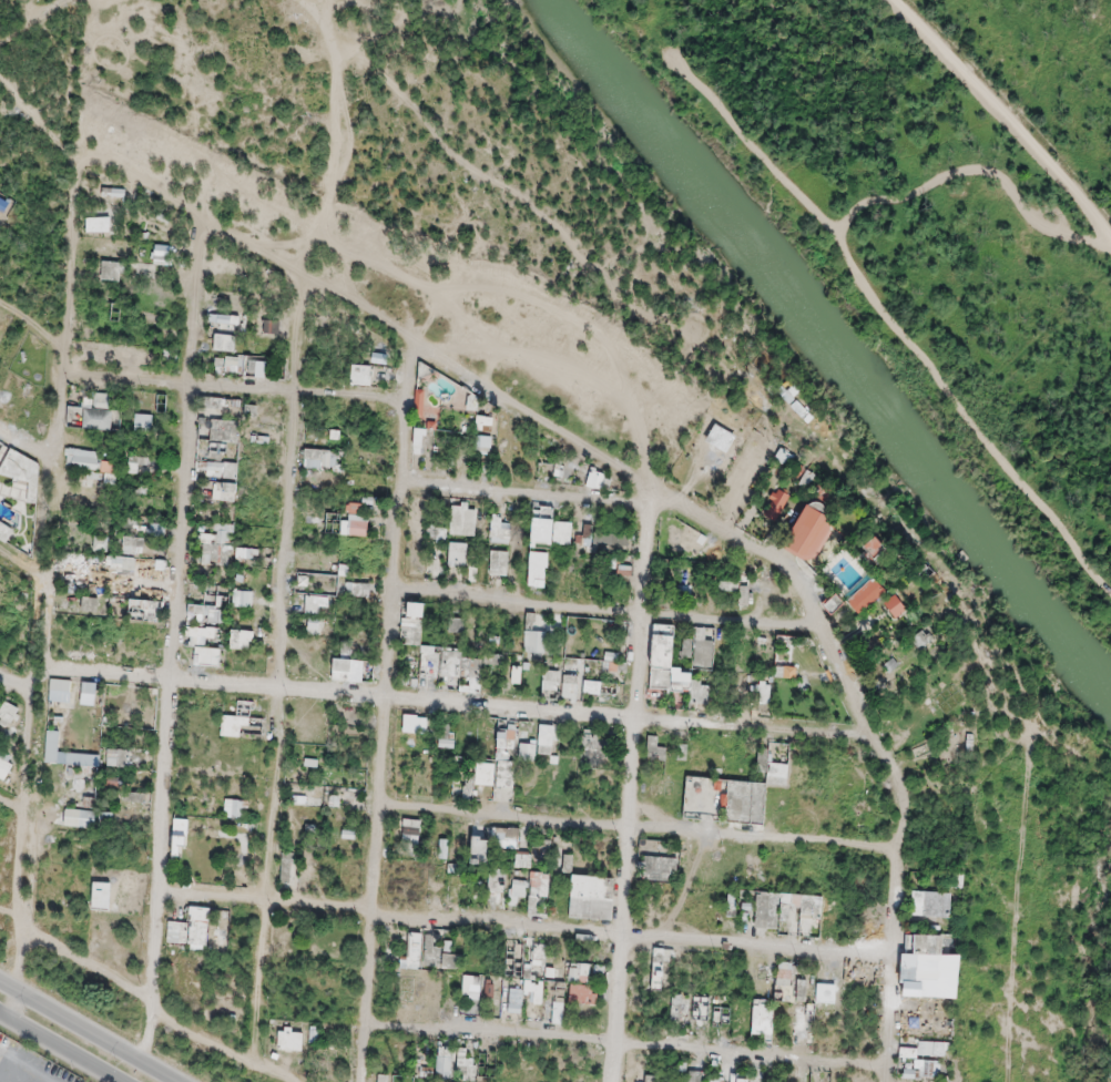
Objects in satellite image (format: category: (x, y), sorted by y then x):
road: (34, 12)
road: (32, 106)
river: (640, 118)
road: (1003, 119)
road: (334, 131)
road: (760, 152)
road: (32, 154)
road: (876, 297)
road: (34, 326)
road: (471, 333)
road: (452, 347)
road: (235, 388)
building: (226, 431)
road: (28, 447)
road: (642, 448)
building: (320, 456)
building: (93, 459)
river: (919, 468)
road: (660, 493)
road: (524, 497)
building: (358, 517)
building: (465, 519)
road: (23, 563)
road: (45, 584)
building: (360, 588)
road: (609, 613)
building: (415, 623)
road: (175, 642)
building: (665, 645)
building: (705, 657)
building: (344, 666)
road: (278, 672)
building: (552, 680)
building: (572, 685)
road: (19, 687)
road: (455, 704)
road: (386, 712)
road: (632, 785)
building: (716, 797)
road: (16, 808)
road: (640, 830)
building: (181, 836)
building: (591, 891)
road: (12, 921)
road: (529, 928)
building: (188, 931)
building: (544, 962)
building: (580, 972)
road: (157, 1009)
road: (86, 1032)
road: (630, 1045)
road: (59, 1048)
parking lot: (7, 1049)
road: (3, 1054)

